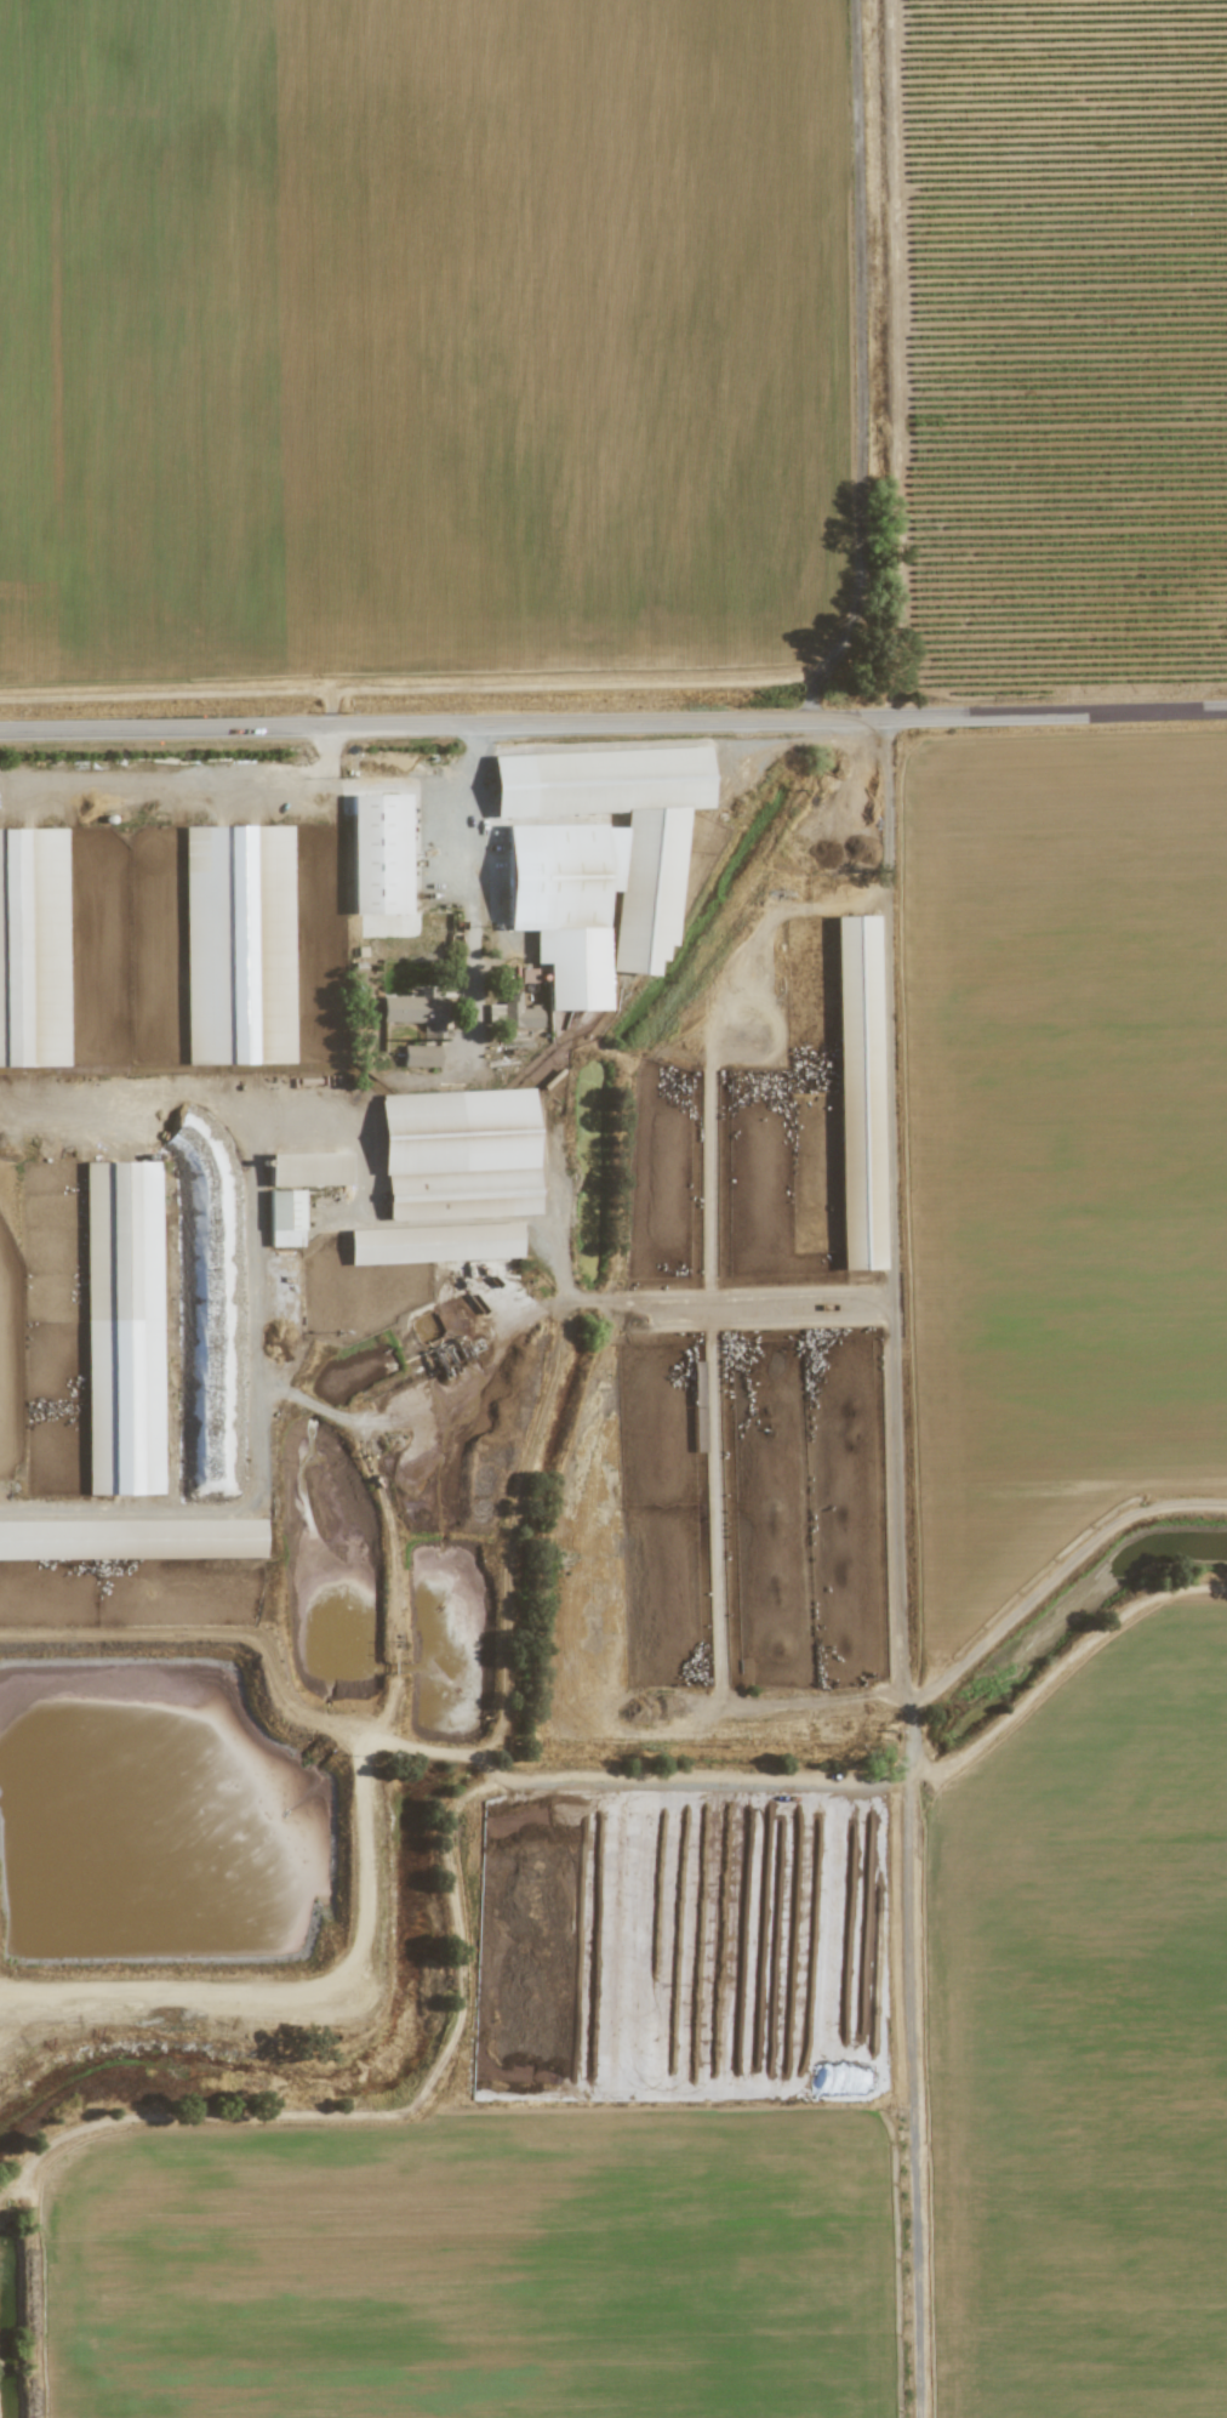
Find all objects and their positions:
road: (613, 722)
road: (189, 787)
building: (378, 854)
road: (474, 886)
building: (236, 945)
building: (32, 948)
building: (527, 975)
building: (415, 1012)
building: (518, 1013)
building: (420, 1057)
building: (857, 1093)
building: (457, 1155)
building: (307, 1170)
building: (284, 1218)
building: (433, 1244)
building: (121, 1329)
building: (130, 1540)
road: (903, 1569)

